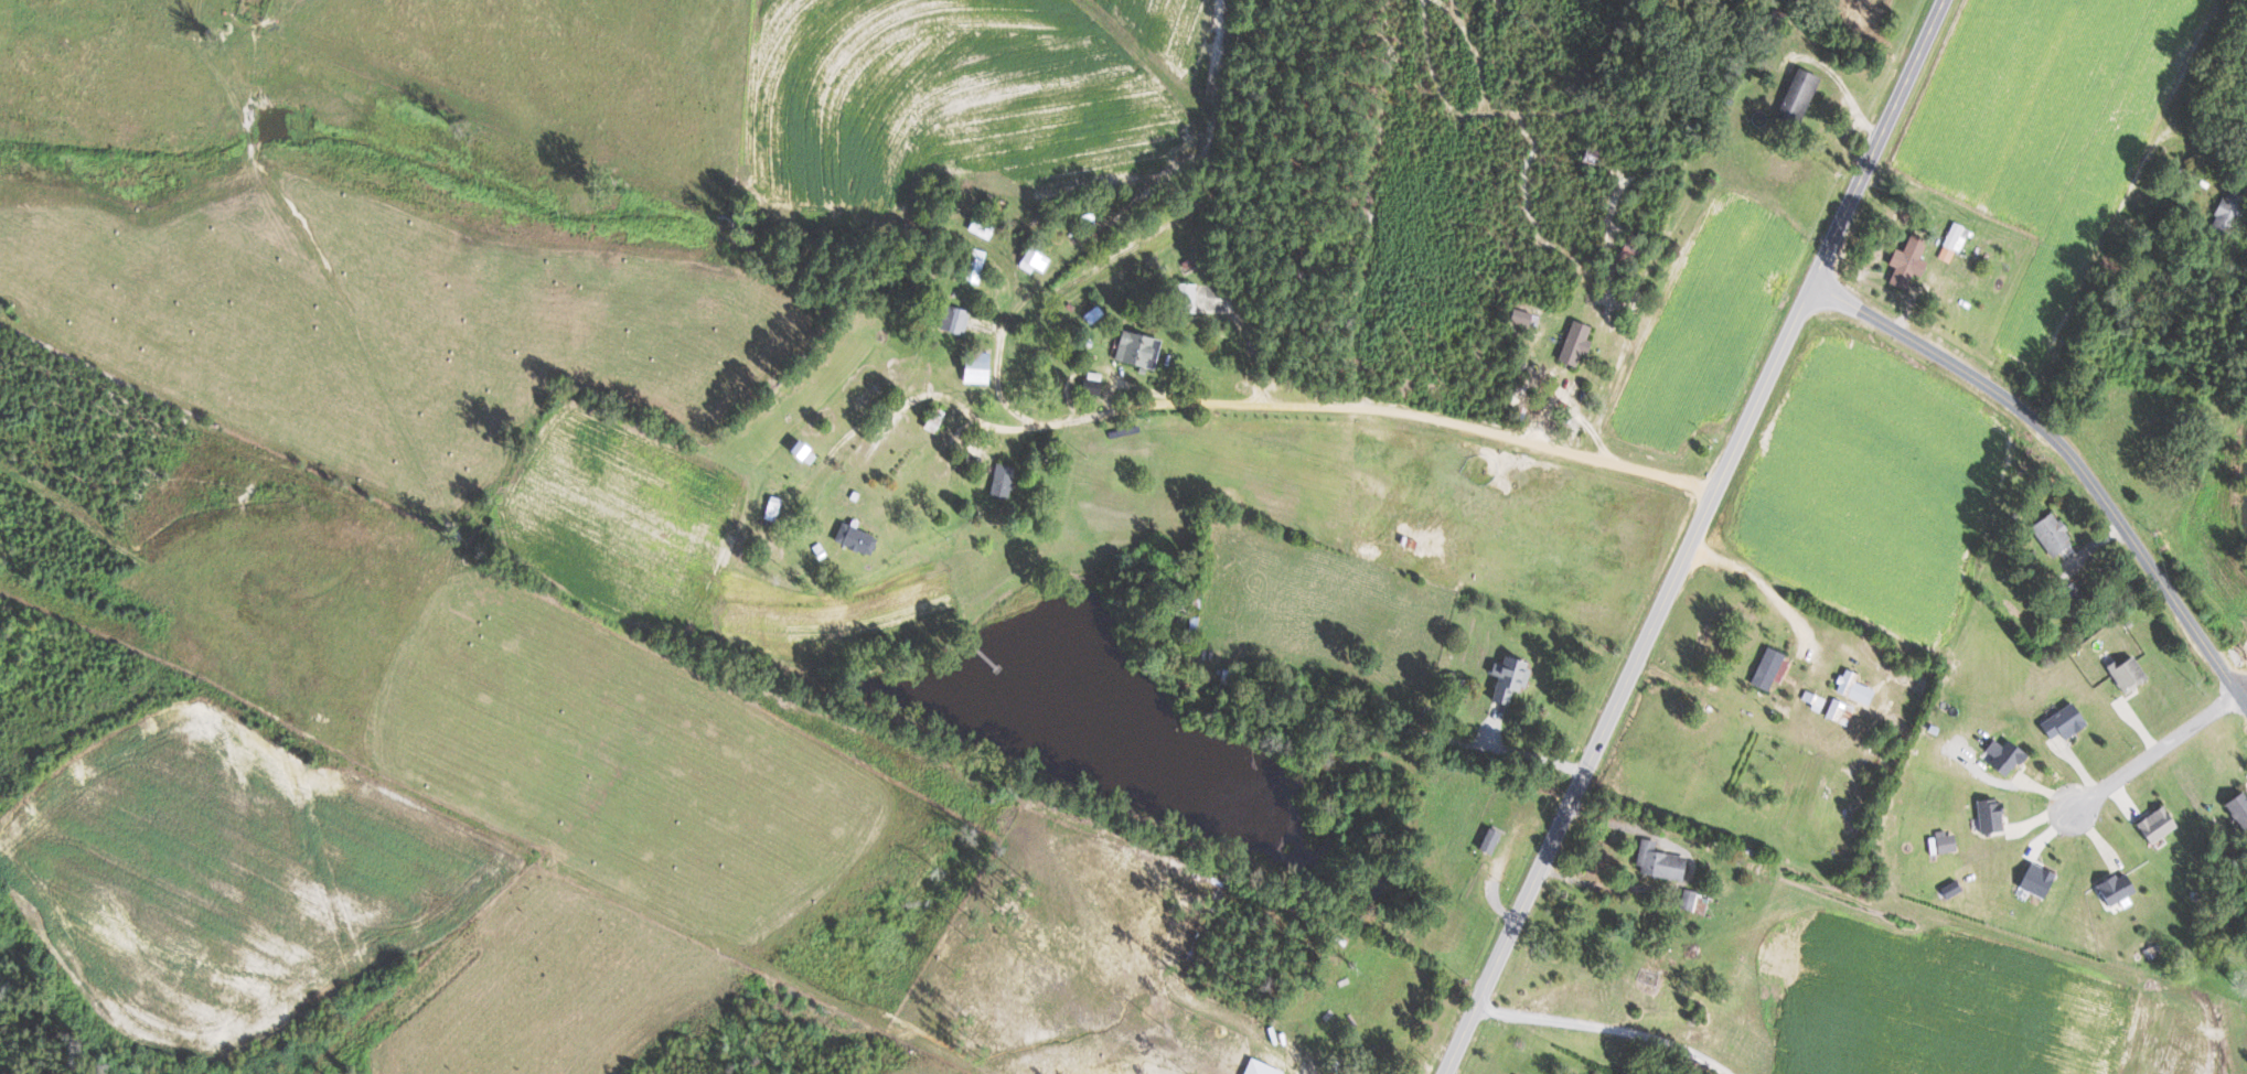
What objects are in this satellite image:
building: (1795, 97)
building: (2225, 213)
building: (1951, 243)
building: (1029, 261)
building: (1904, 261)
road: (2095, 265)
building: (973, 266)
building: (1183, 298)
building: (1519, 316)
building: (951, 319)
building: (1572, 343)
building: (1133, 350)
building: (972, 368)
road: (916, 397)
road: (1302, 407)
building: (799, 451)
road: (2067, 455)
building: (999, 479)
building: (769, 507)
building: (2048, 533)
road: (1693, 537)
building: (853, 538)
road: (1761, 586)
building: (2068, 592)
road: (2236, 666)
building: (1767, 667)
building: (2125, 673)
building: (1505, 676)
building: (1850, 686)
building: (1810, 699)
building: (1837, 711)
building: (2059, 721)
road: (2157, 751)
road: (1523, 754)
building: (2001, 755)
building: (2236, 807)
building: (1984, 814)
building: (2153, 824)
building: (1485, 839)
building: (1938, 842)
building: (1655, 861)
road: (1688, 878)
building: (2033, 879)
building: (2111, 888)
building: (1689, 899)
building: (1646, 979)
road: (1607, 1028)

